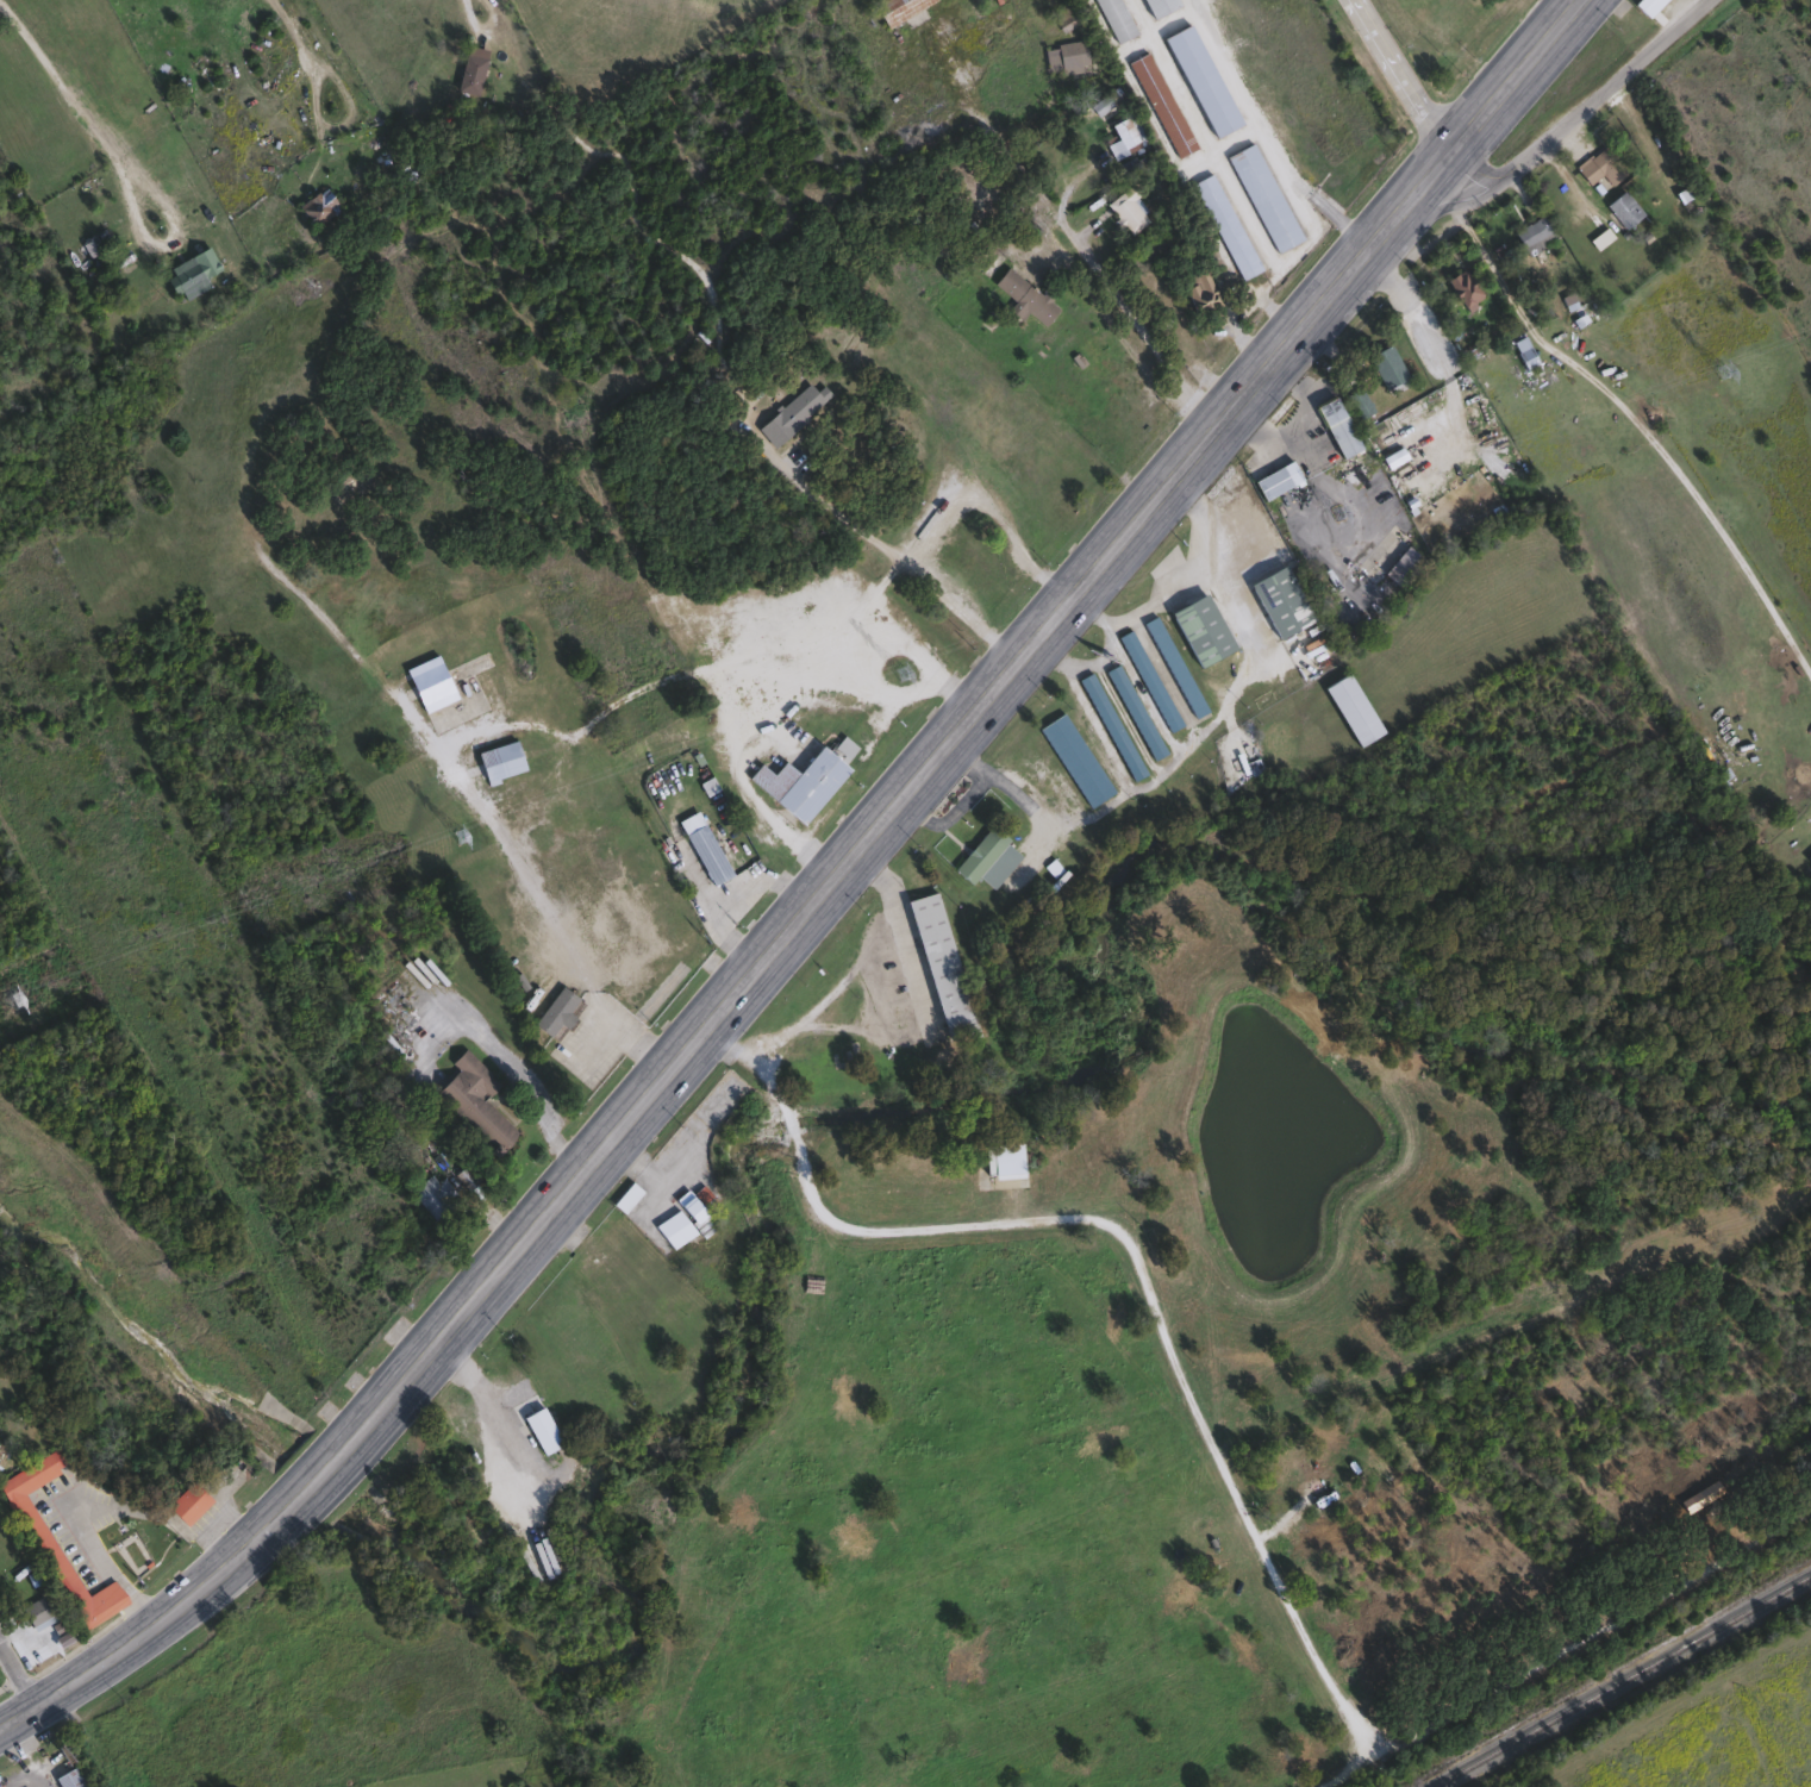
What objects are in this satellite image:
building: (1156, 6)
building: (1645, 6)
road: (473, 7)
building: (894, 8)
road: (289, 18)
building: (1114, 18)
building: (1064, 56)
building: (470, 70)
road: (1395, 75)
building: (1201, 80)
road: (64, 83)
building: (1160, 104)
road: (1584, 106)
building: (1124, 131)
road: (1264, 133)
building: (1598, 165)
building: (1262, 196)
building: (316, 205)
building: (1622, 208)
building: (1125, 210)
building: (1224, 226)
road: (1073, 232)
building: (1534, 236)
building: (90, 242)
building: (186, 277)
road: (704, 279)
building: (1197, 289)
building: (1463, 289)
building: (1024, 298)
road: (1435, 352)
building: (1524, 352)
building: (1386, 365)
power tower: (1719, 371)
building: (289, 389)
building: (1357, 402)
road: (1631, 407)
building: (792, 412)
building: (1336, 426)
building: (1275, 480)
building: (985, 519)
road: (938, 520)
building: (964, 539)
building: (1403, 567)
road: (1175, 582)
building: (1279, 601)
building: (412, 621)
building: (1200, 630)
road: (906, 632)
road: (1100, 651)
building: (1173, 667)
power tower: (899, 674)
building: (437, 676)
building: (1148, 680)
building: (1351, 708)
building: (1134, 711)
road: (733, 720)
building: (1110, 725)
road: (1188, 745)
building: (499, 758)
building: (1074, 758)
building: (810, 774)
road: (468, 781)
building: (1717, 781)
power tower: (456, 835)
building: (704, 846)
building: (1810, 857)
building: (987, 858)
road: (817, 892)
road: (855, 964)
building: (939, 966)
power tower: (12, 999)
building: (552, 1013)
road: (523, 1077)
building: (730, 1089)
building: (474, 1101)
building: (1003, 1160)
building: (435, 1195)
building: (681, 1220)
road: (1131, 1242)
road: (473, 1376)
building: (541, 1430)
building: (1336, 1470)
building: (187, 1502)
building: (40, 1537)
building: (38, 1611)
road: (17, 1670)
railway: (1617, 1679)
building: (68, 1777)

